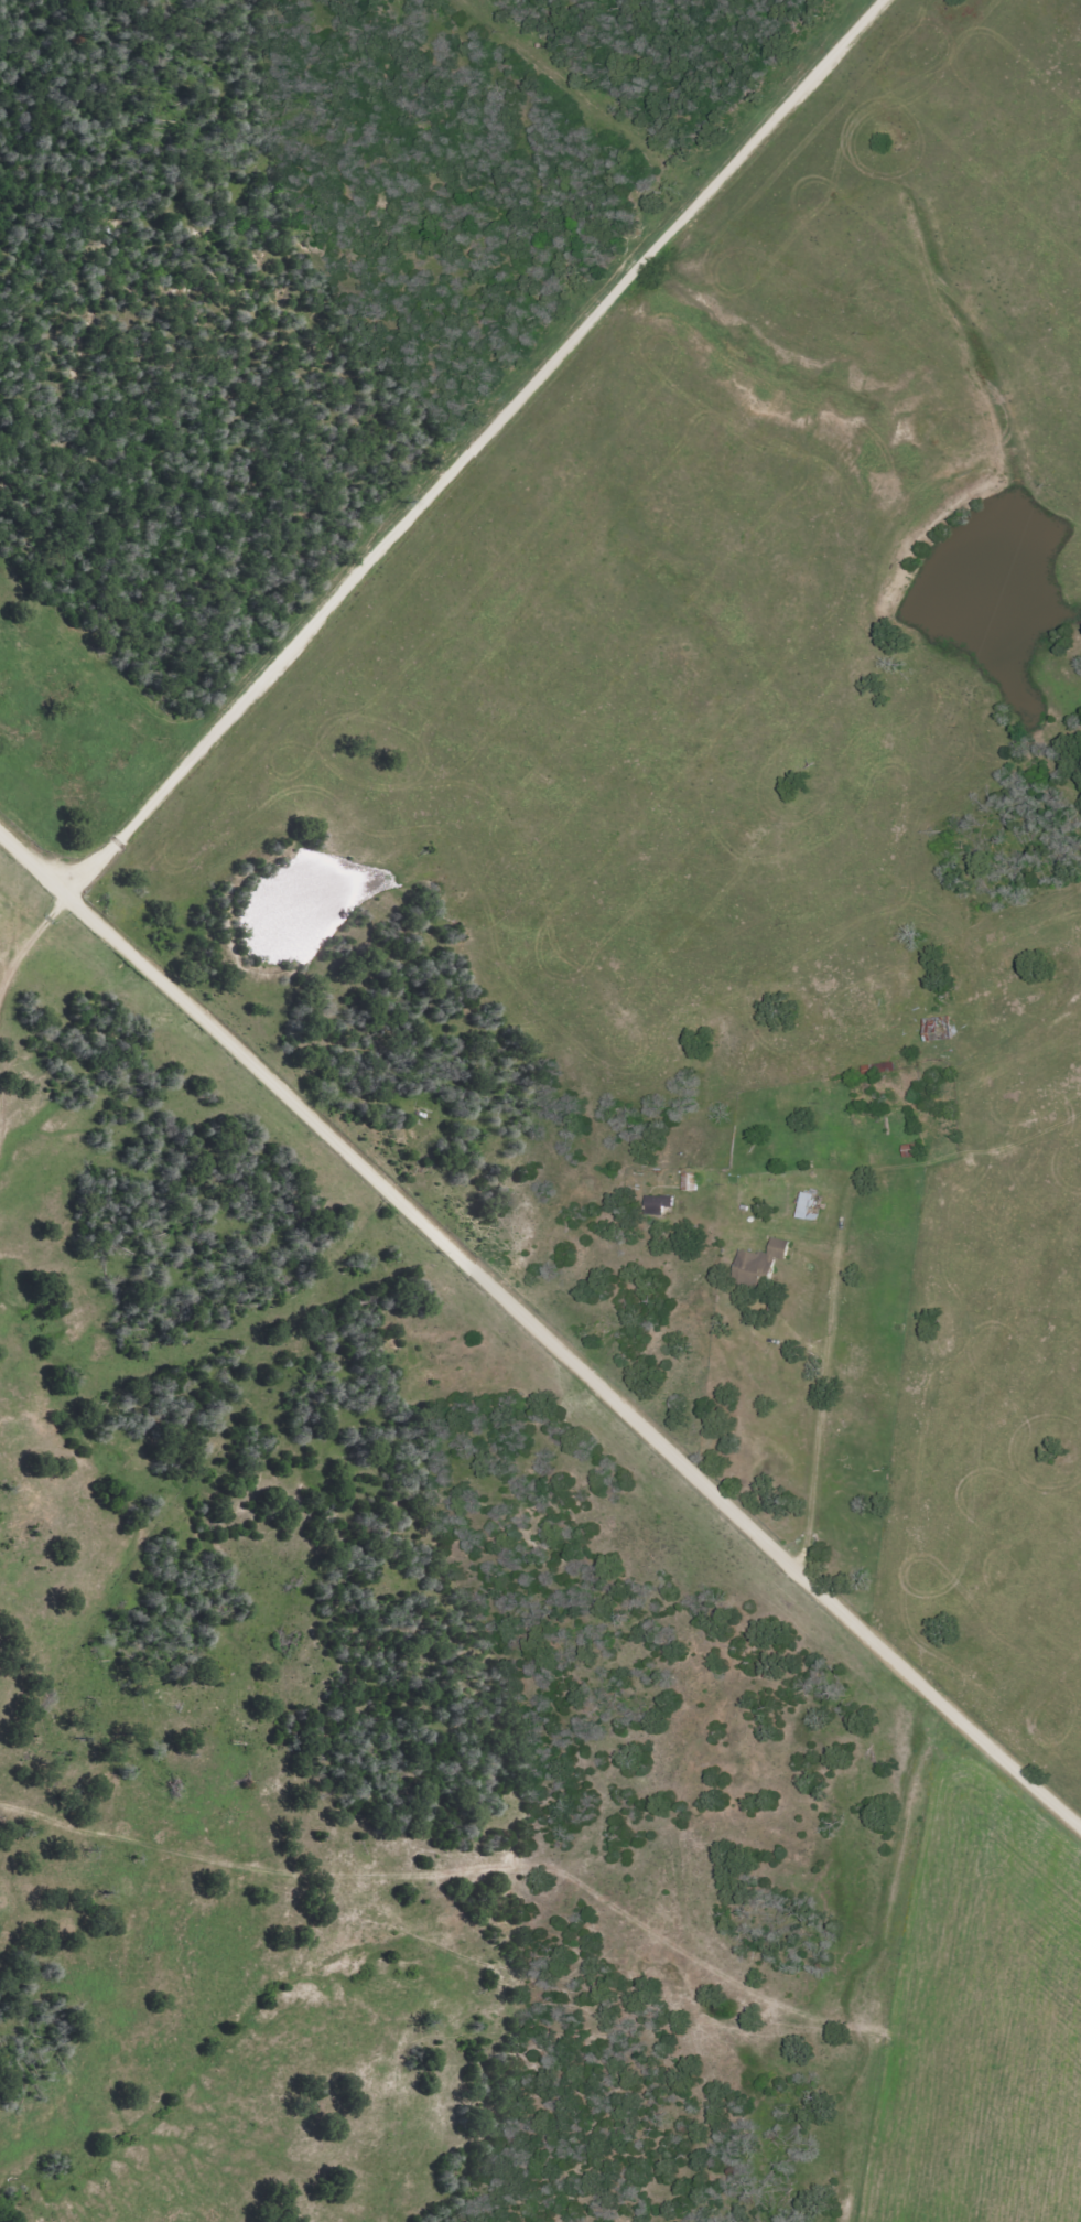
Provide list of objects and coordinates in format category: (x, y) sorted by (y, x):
road: (305, 584)
building: (814, 1206)
building: (764, 1266)
road: (538, 1327)
road: (856, 1414)

